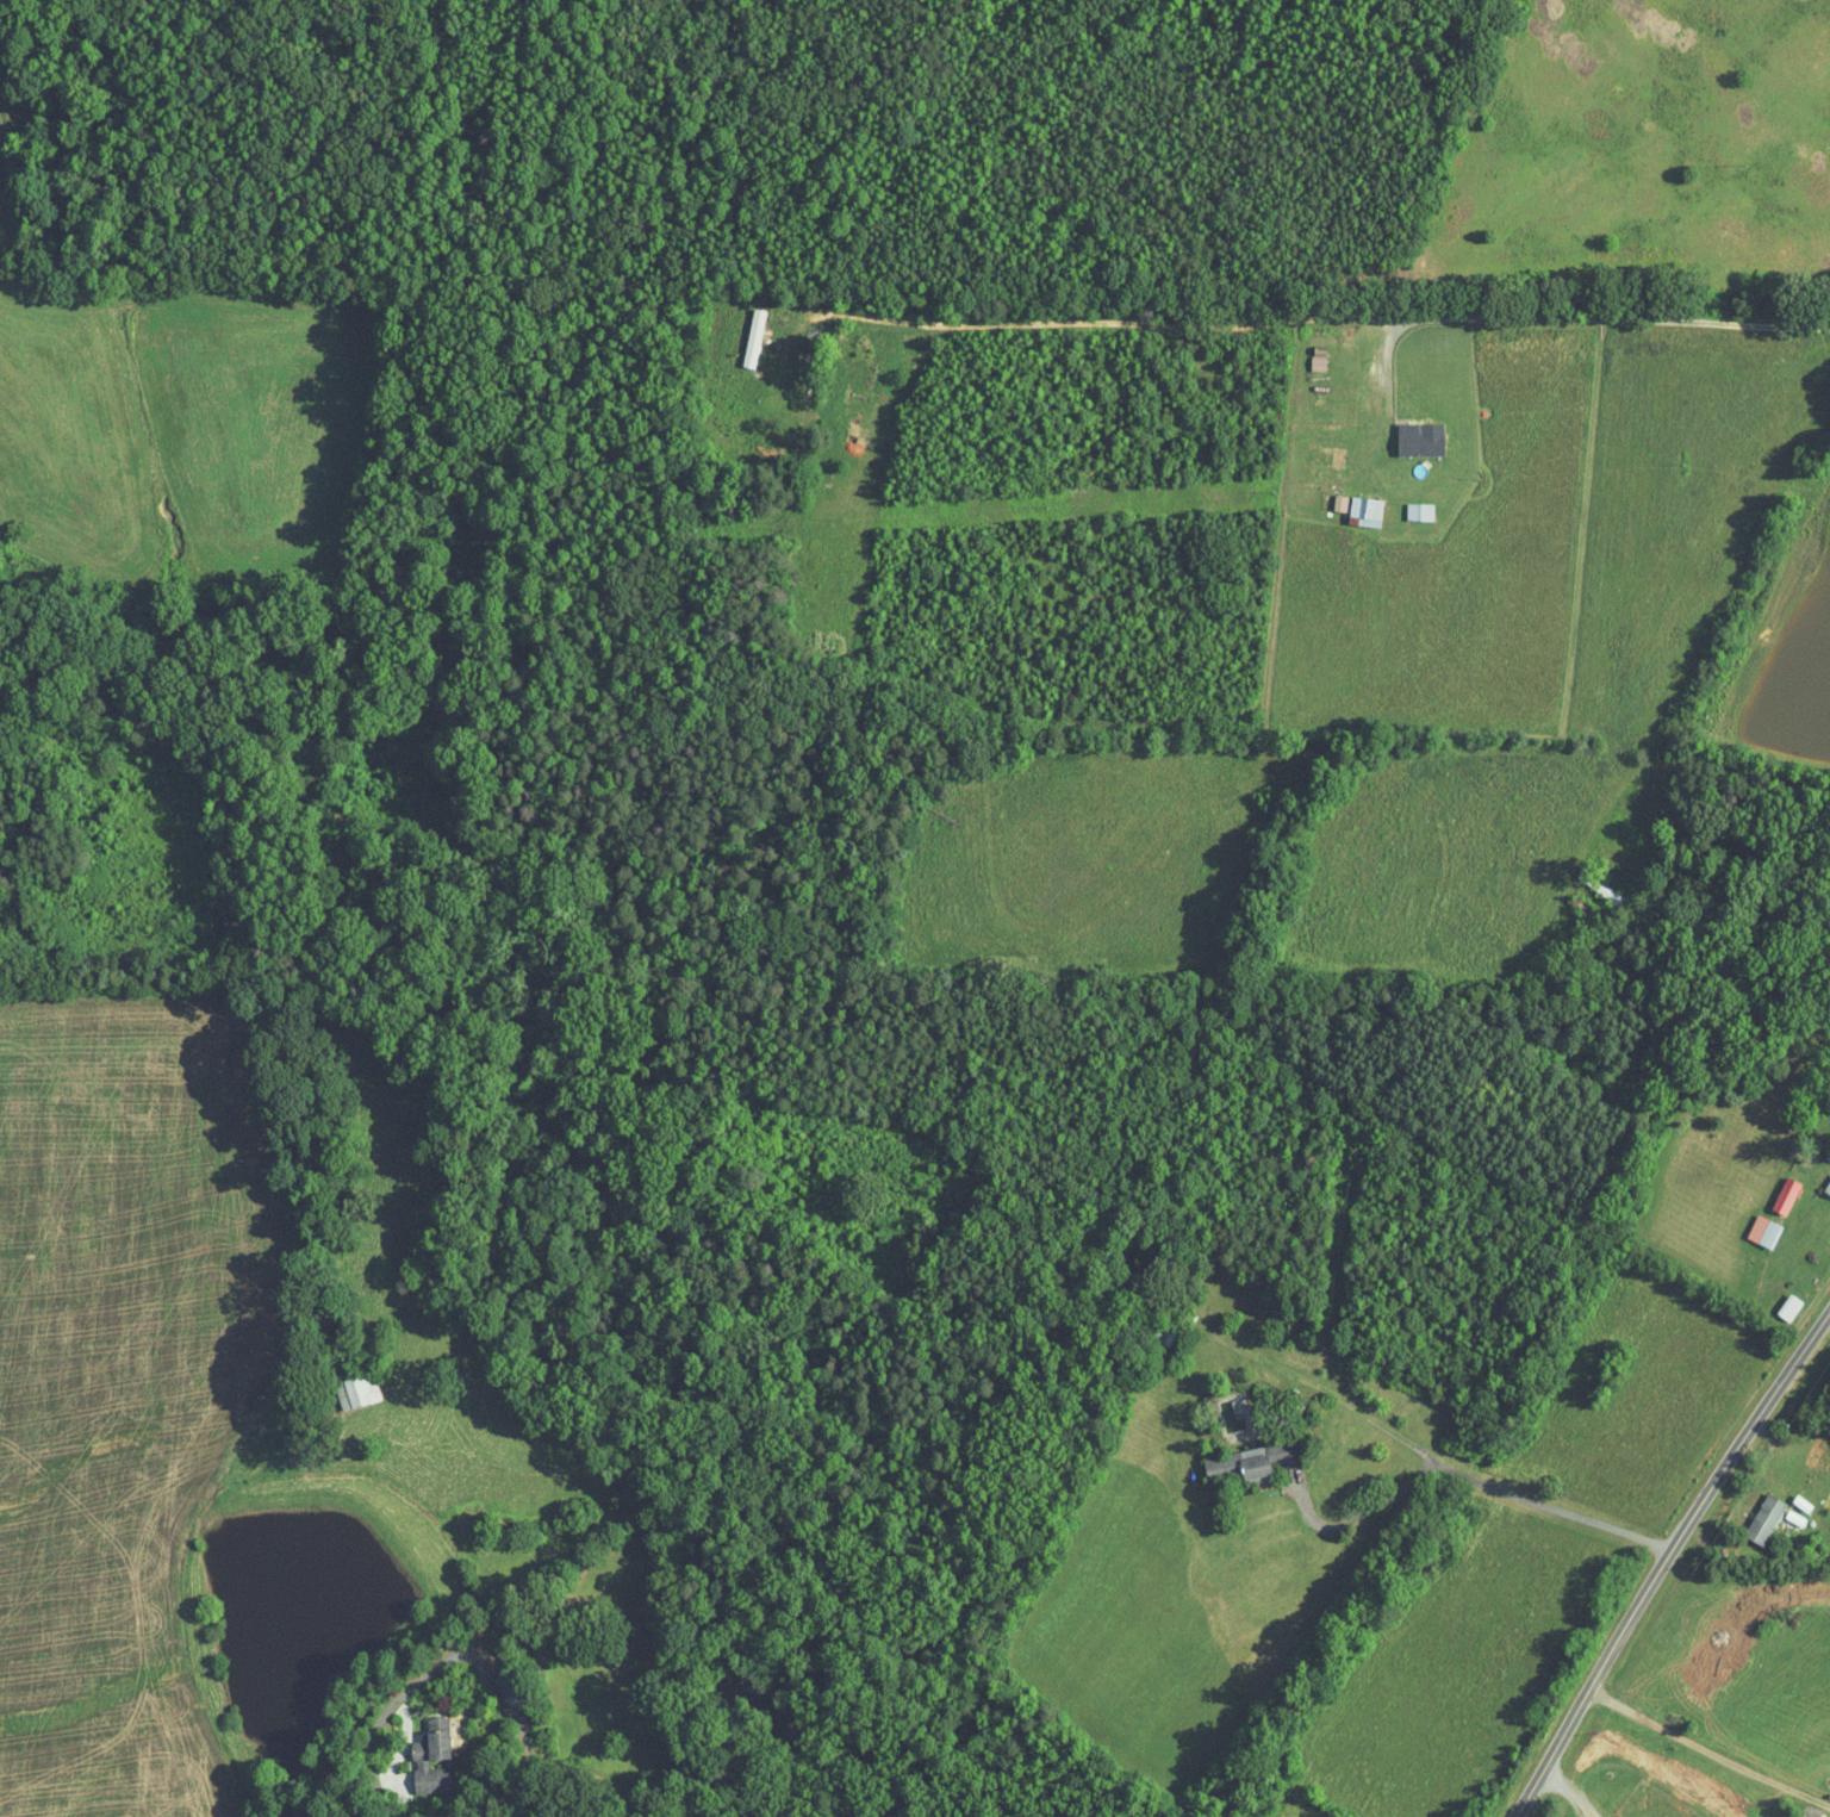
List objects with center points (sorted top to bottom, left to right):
road: (1613, 317)
road: (1104, 323)
building: (1319, 359)
road: (1387, 366)
building: (1423, 438)
building: (1340, 502)
building: (1368, 510)
building: (1420, 511)
road: (1673, 760)
building: (1601, 886)
building: (1828, 1187)
building: (1787, 1194)
building: (1766, 1230)
building: (1791, 1305)
building: (1289, 1449)
building: (1241, 1464)
road: (1465, 1477)
road: (1731, 1516)
building: (1767, 1517)
road: (1666, 1556)
building: (510, 1687)
building: (442, 1737)
road: (1707, 1750)
building: (437, 1778)
building: (1816, 1816)

